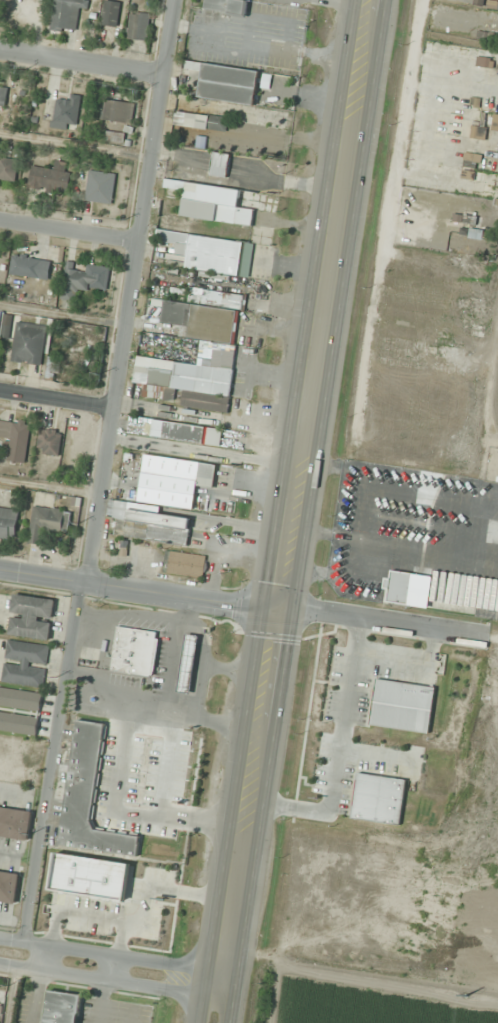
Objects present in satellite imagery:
building: (226, 6)
building: (66, 14)
building: (111, 14)
building: (138, 26)
building: (483, 62)
road: (83, 64)
building: (226, 83)
building: (3, 96)
building: (117, 111)
building: (65, 112)
building: (200, 121)
building: (494, 121)
building: (454, 124)
building: (479, 128)
building: (114, 138)
building: (471, 158)
building: (220, 165)
building: (8, 169)
building: (51, 177)
building: (100, 186)
building: (212, 203)
road: (72, 228)
building: (208, 254)
building: (464, 263)
building: (30, 266)
building: (83, 279)
road: (135, 293)
road: (342, 311)
building: (24, 339)
building: (220, 351)
building: (52, 368)
road: (57, 396)
building: (186, 432)
building: (15, 435)
building: (49, 441)
building: (435, 451)
building: (181, 469)
building: (427, 481)
building: (170, 497)
road: (278, 511)
building: (8, 523)
building: (48, 523)
building: (155, 527)
building: (184, 564)
building: (398, 588)
road: (147, 595)
traffic signals: (262, 614)
building: (31, 617)
traffic signals: (295, 622)
building: (135, 651)
building: (25, 663)
building: (188, 663)
building: (402, 705)
building: (89, 796)
building: (379, 799)
road: (265, 822)
building: (15, 823)
building: (91, 877)
building: (8, 886)
road: (121, 965)
building: (62, 1007)

